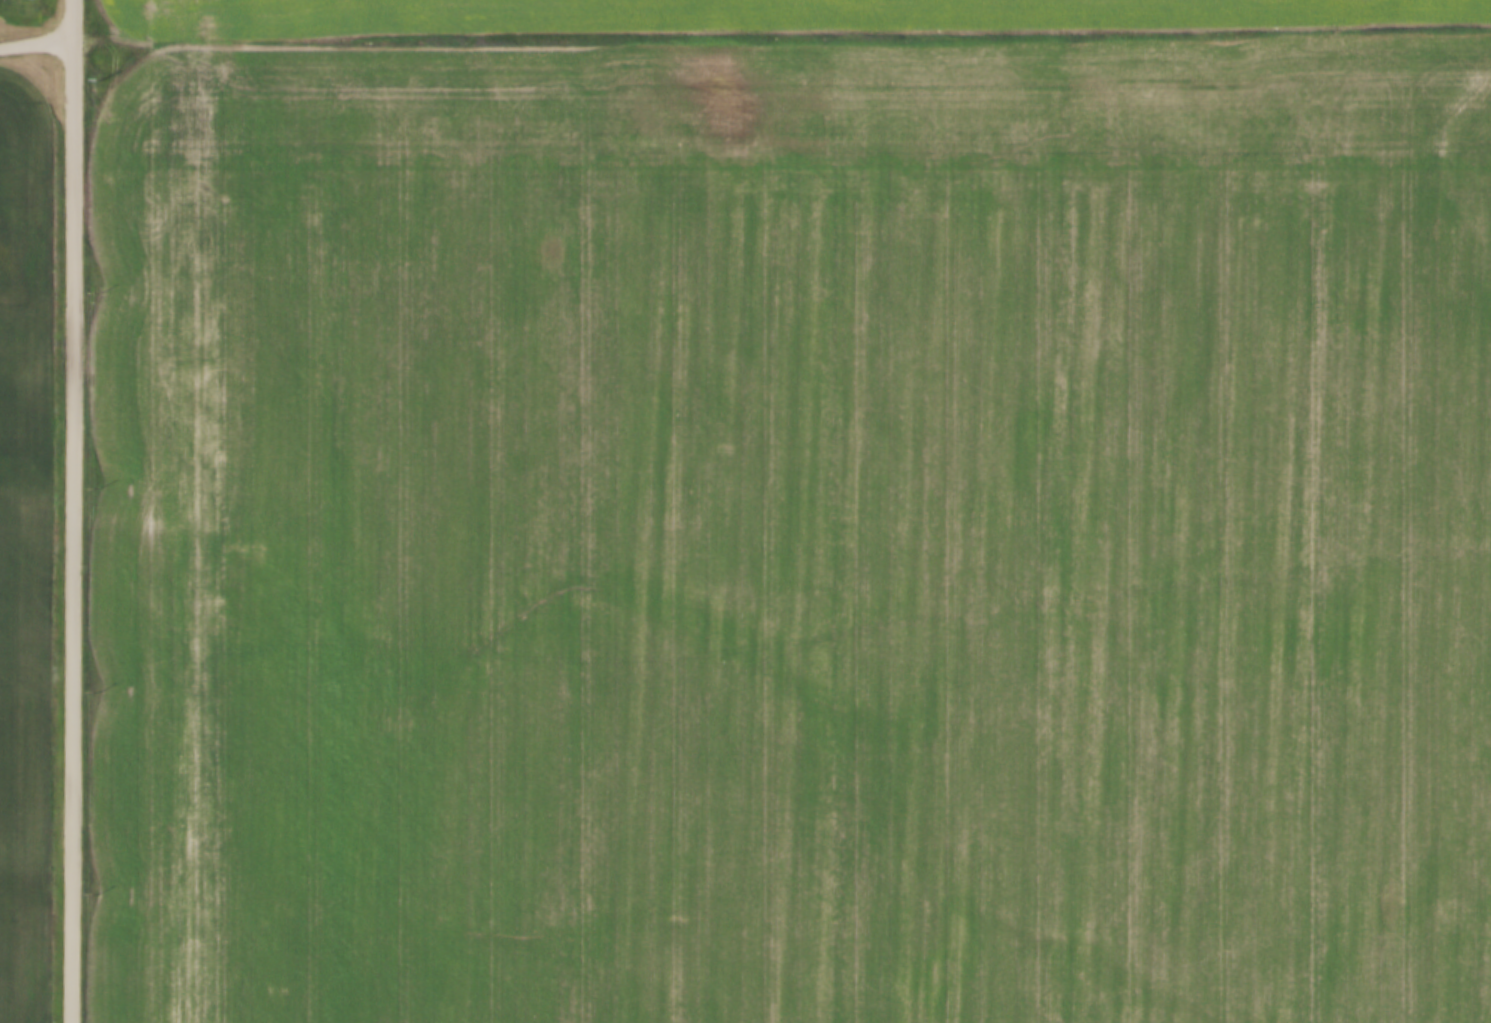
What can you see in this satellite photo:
road: (38, 45)
road: (76, 511)

